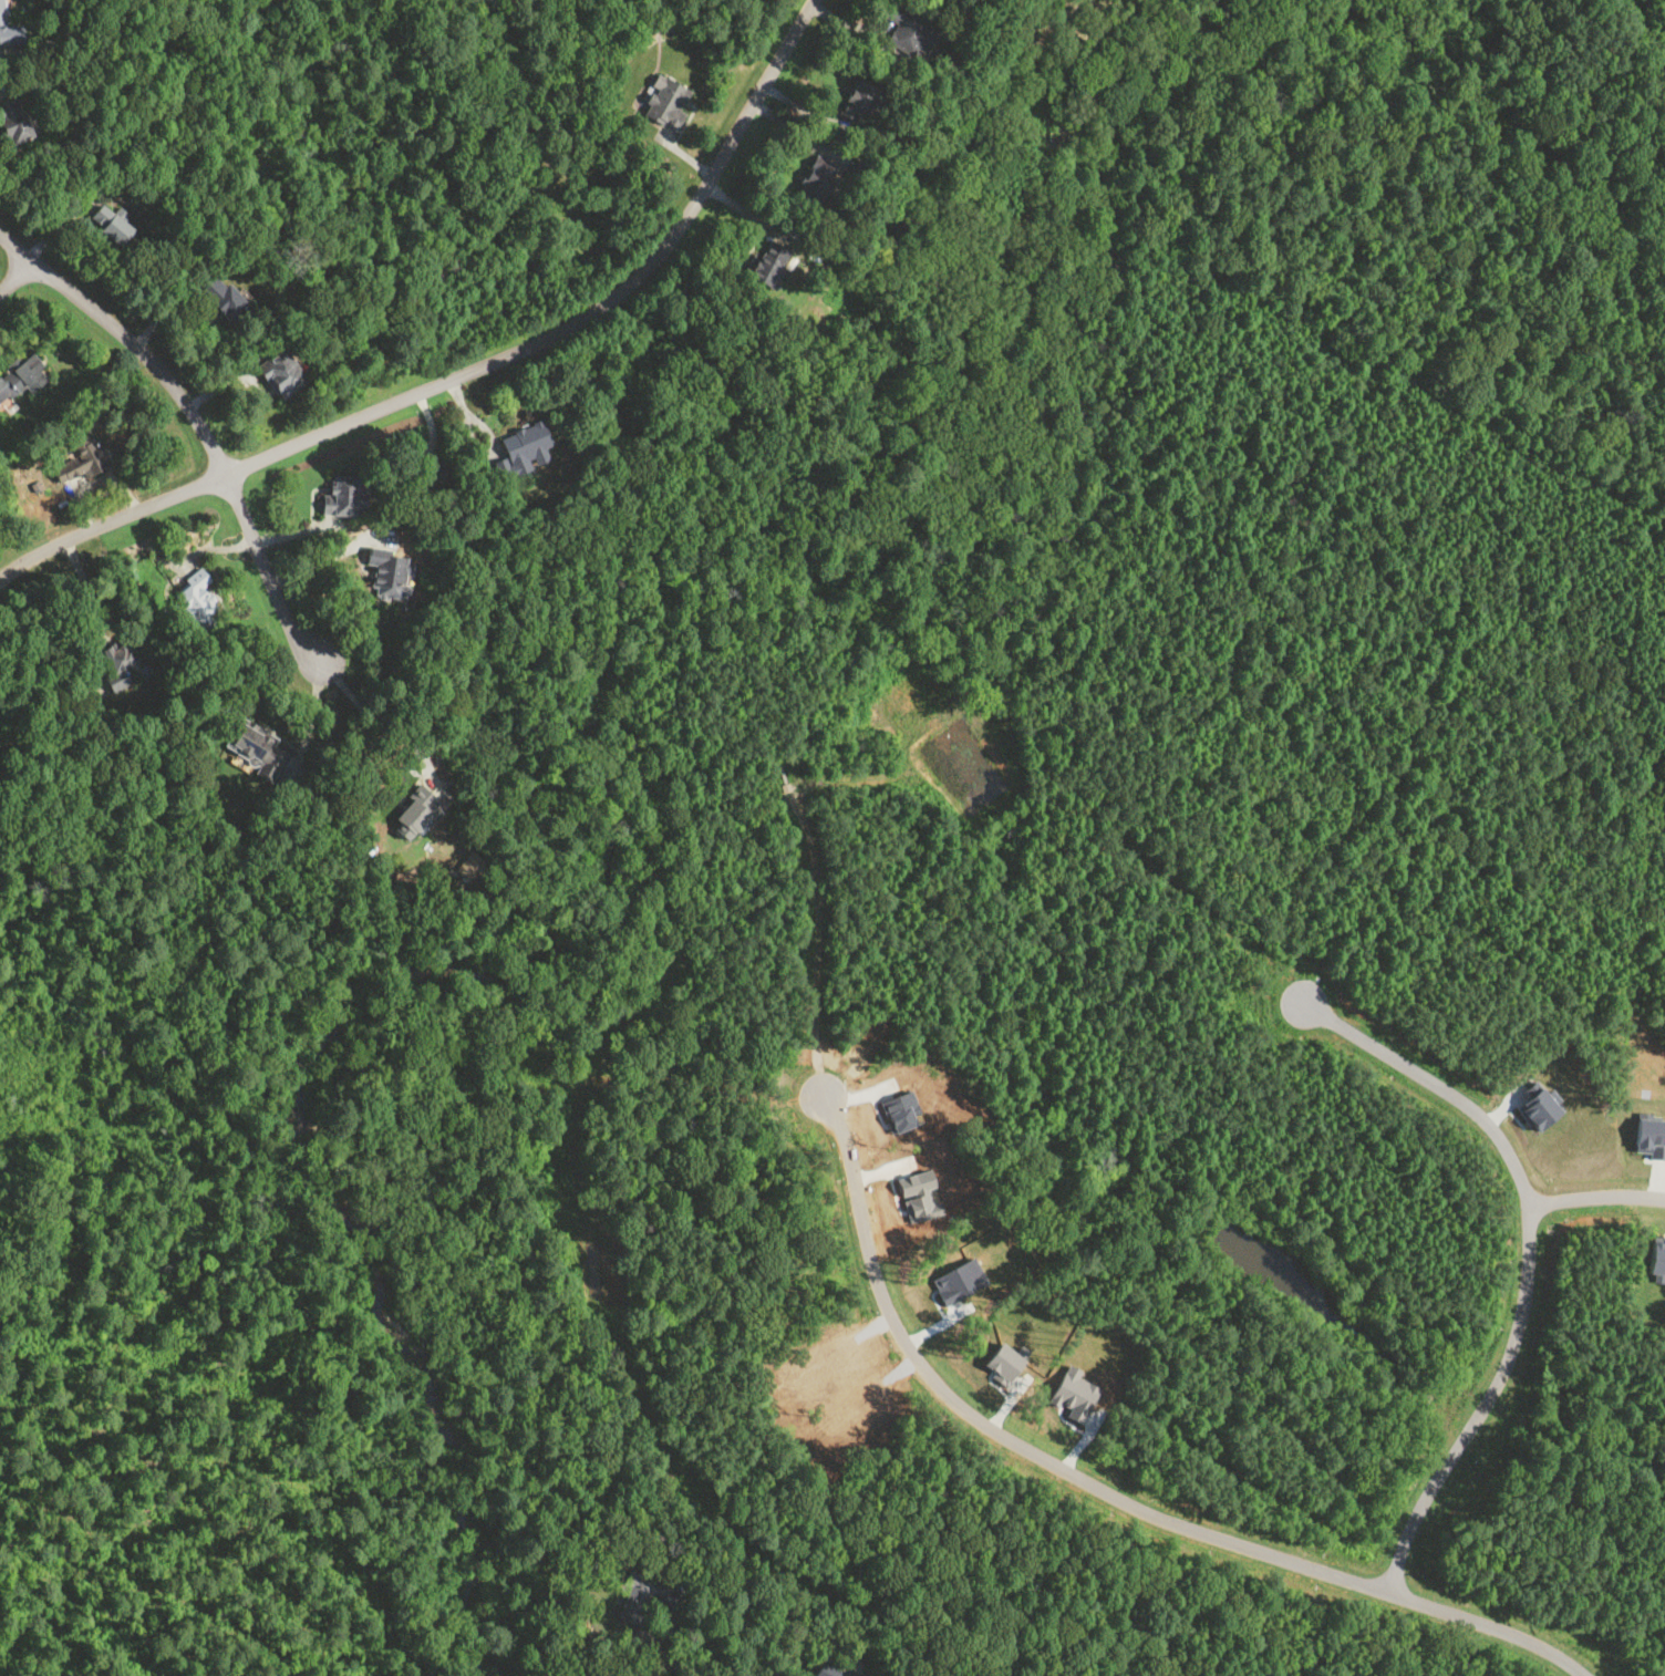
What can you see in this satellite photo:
building: (9, 29)
building: (910, 31)
road: (6, 54)
road: (763, 85)
building: (860, 101)
building: (665, 102)
building: (14, 122)
building: (817, 182)
building: (111, 226)
building: (765, 261)
road: (17, 275)
building: (223, 298)
building: (282, 372)
building: (25, 373)
building: (2, 381)
road: (383, 407)
road: (196, 421)
building: (523, 447)
building: (82, 457)
building: (439, 472)
building: (348, 495)
road: (323, 560)
building: (390, 571)
building: (198, 598)
road: (91, 600)
building: (120, 663)
road: (382, 717)
building: (258, 747)
building: (416, 811)
building: (466, 862)
building: (1538, 1108)
building: (1651, 1136)
road: (1596, 1194)
road: (1529, 1255)
building: (1656, 1256)
building: (959, 1280)
building: (1003, 1362)
building: (1074, 1393)
road: (1106, 1491)
building: (660, 1593)
building: (834, 1664)

